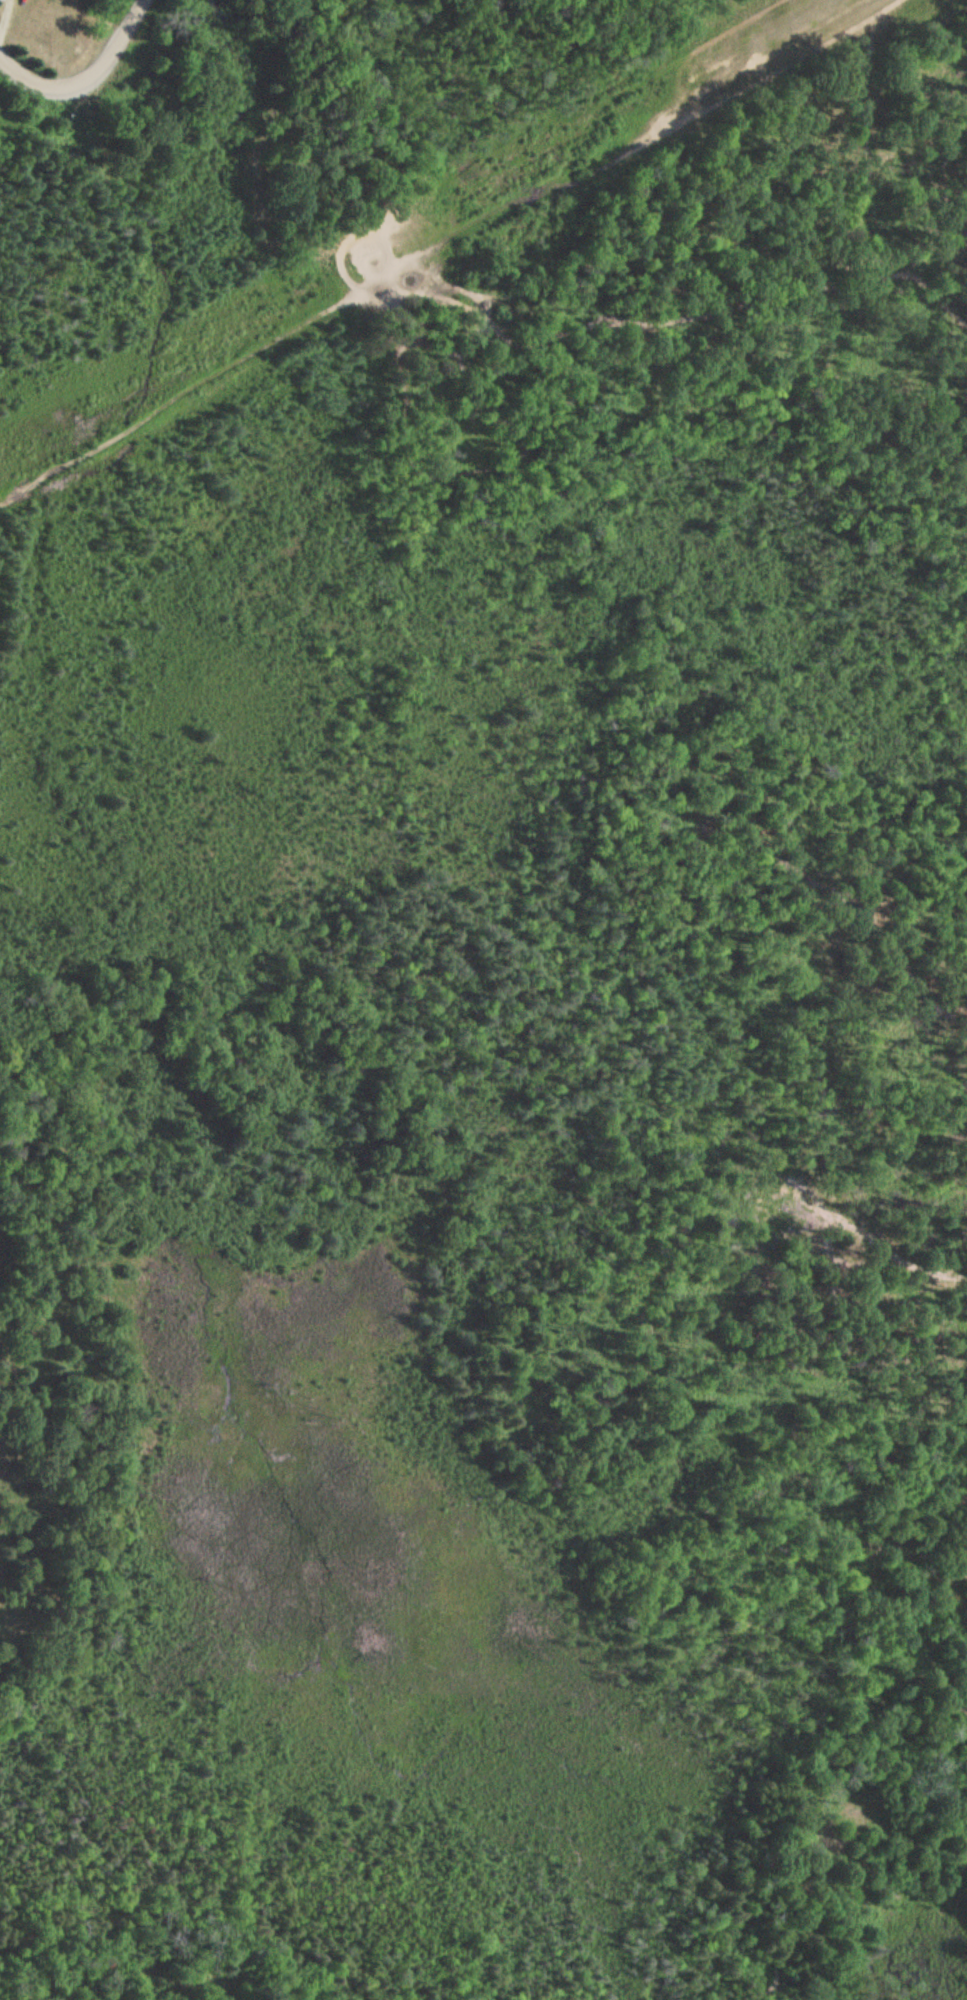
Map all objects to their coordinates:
road: (0, 60)
road: (88, 84)
road: (62, 147)
road: (447, 248)

